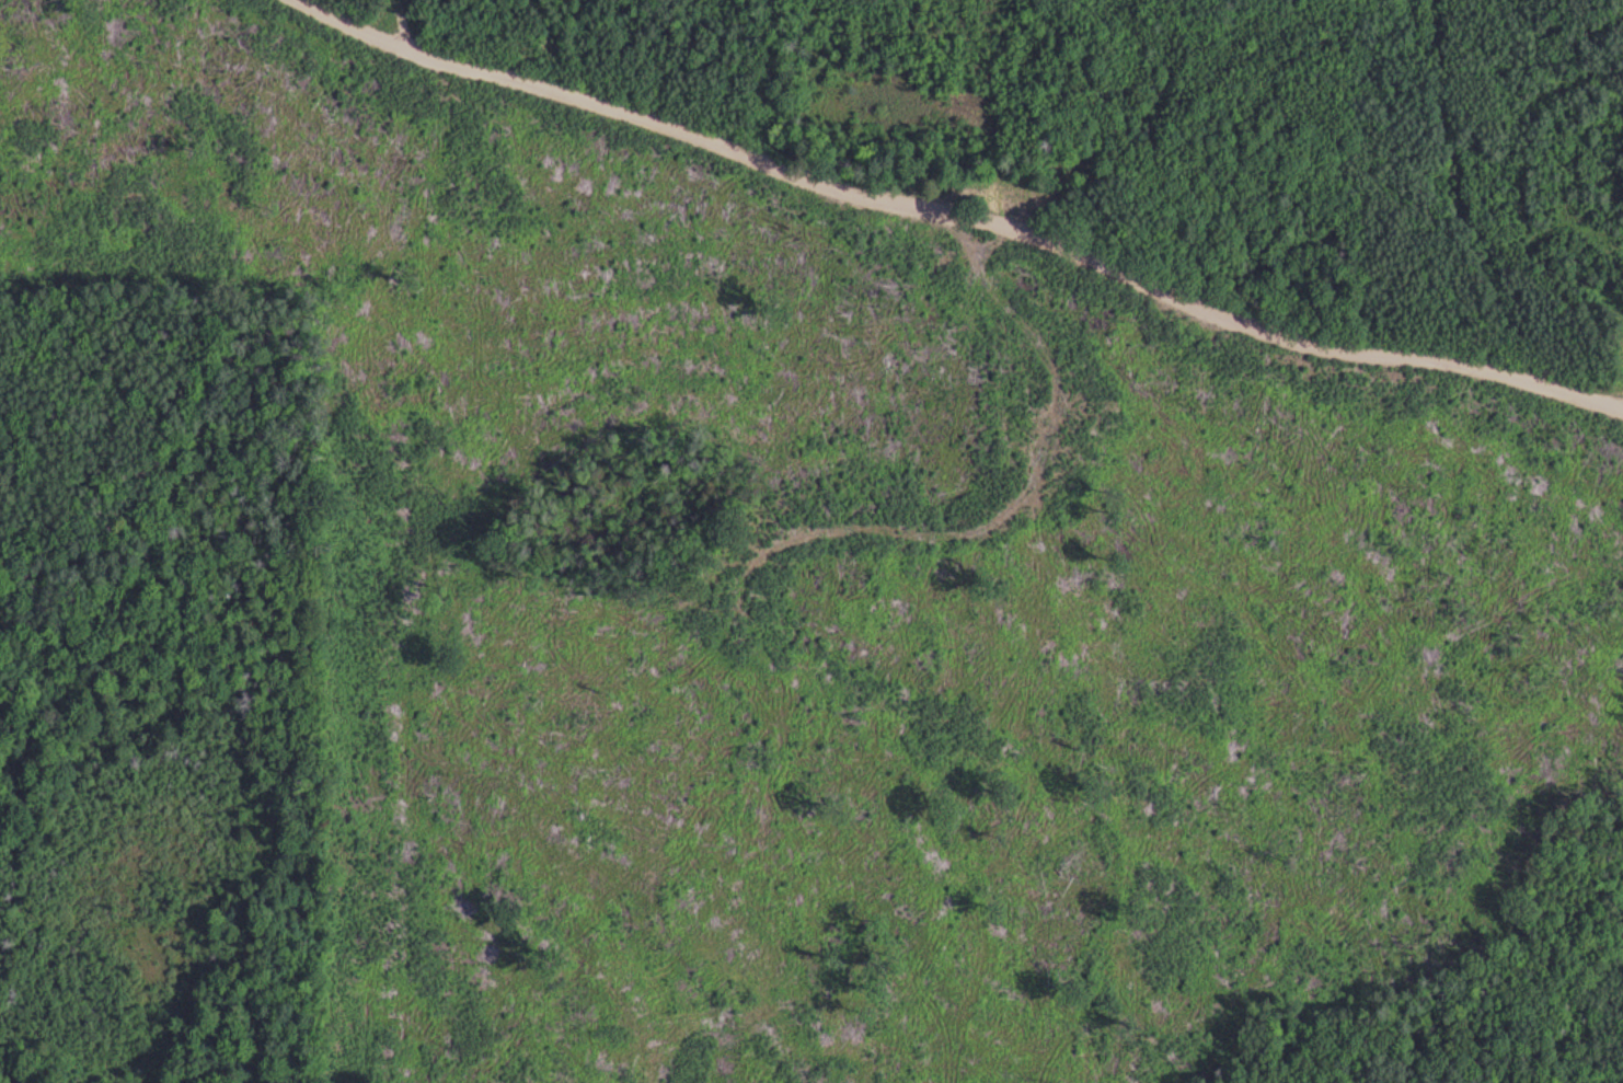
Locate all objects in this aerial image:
road: (965, 216)

